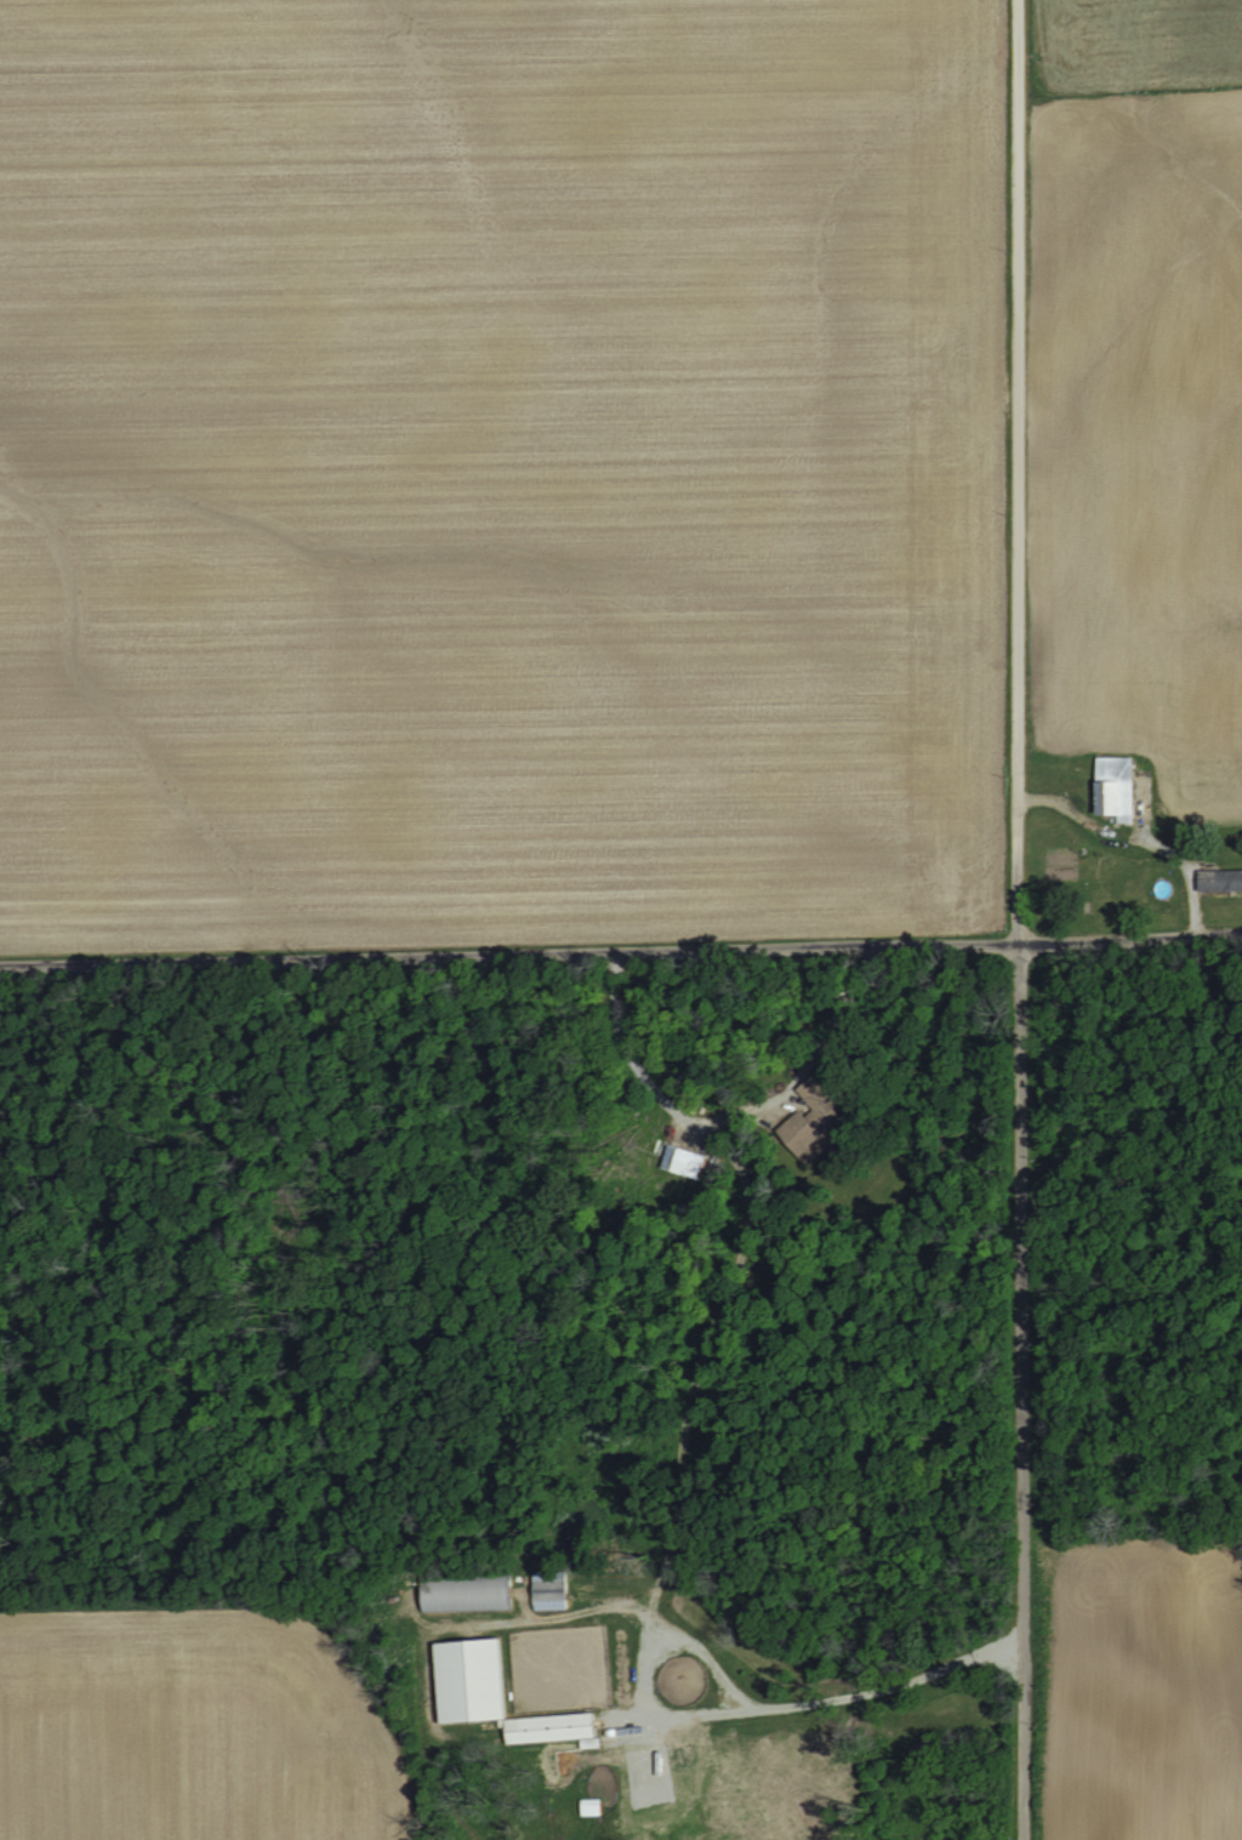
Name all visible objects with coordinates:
road: (1005, 471)
building: (1112, 788)
building: (1218, 882)
road: (621, 949)
road: (824, 1021)
building: (814, 1109)
building: (801, 1135)
building: (683, 1161)
road: (1009, 1390)
building: (541, 1588)
building: (465, 1591)
road: (605, 1603)
road: (517, 1605)
road: (638, 1664)
building: (465, 1679)
road: (805, 1699)
road: (422, 1714)
building: (546, 1726)

